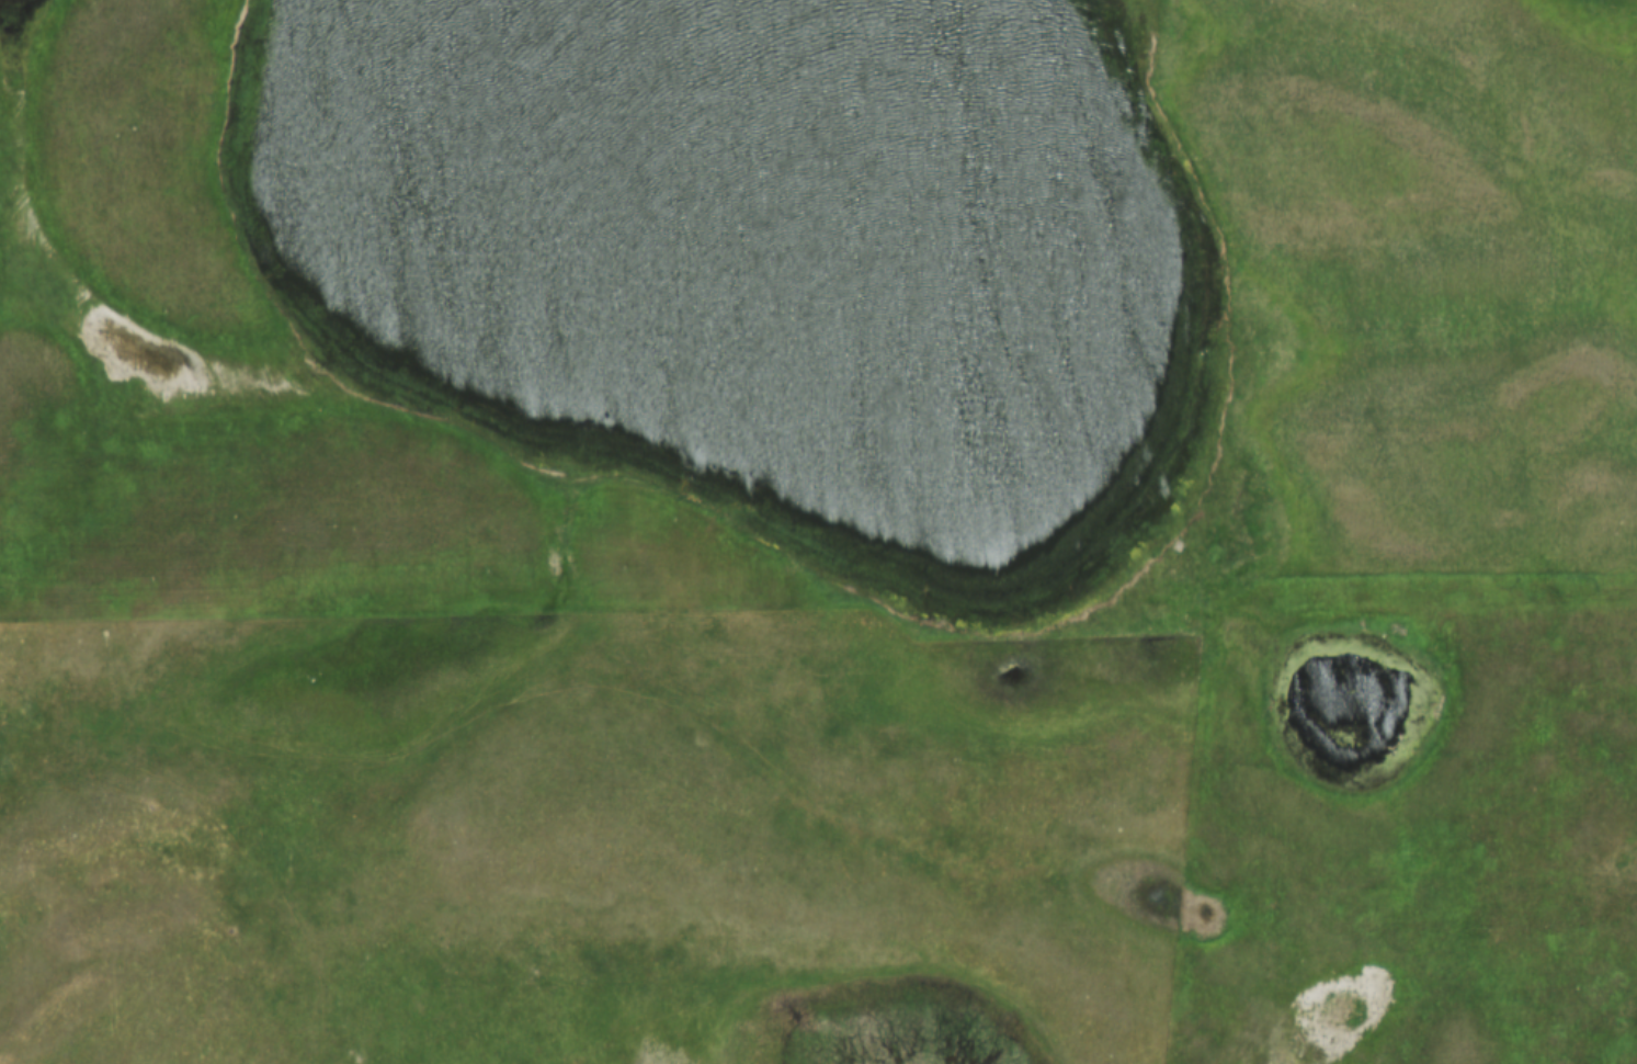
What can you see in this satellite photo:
road: (1244, 648)

